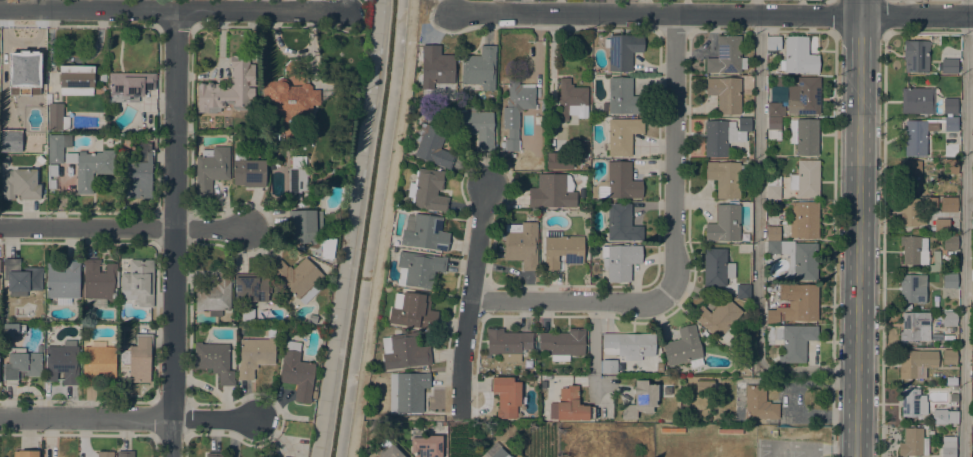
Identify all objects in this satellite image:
road: (510, 7)
road: (861, 7)
road: (88, 10)
road: (259, 11)
road: (656, 14)
road: (834, 15)
road: (917, 15)
road: (882, 16)
building: (773, 43)
building: (622, 51)
building: (917, 55)
building: (726, 56)
building: (798, 56)
building: (949, 66)
building: (435, 68)
building: (479, 68)
building: (102, 77)
building: (25, 79)
building: (76, 80)
building: (780, 82)
building: (130, 86)
building: (228, 89)
building: (726, 94)
building: (803, 97)
building: (622, 98)
building: (288, 99)
building: (571, 101)
building: (917, 101)
building: (950, 106)
building: (774, 109)
building: (23, 111)
building: (515, 111)
building: (55, 115)
building: (474, 126)
building: (773, 129)
building: (922, 134)
building: (622, 135)
building: (723, 136)
building: (804, 136)
building: (15, 141)
building: (432, 146)
building: (57, 147)
building: (581, 147)
road: (675, 156)
building: (559, 161)
building: (950, 167)
building: (92, 168)
building: (210, 169)
building: (248, 171)
building: (911, 174)
building: (138, 175)
building: (52, 176)
building: (725, 178)
building: (805, 179)
building: (42, 182)
building: (296, 182)
building: (617, 182)
building: (20, 185)
building: (772, 187)
building: (427, 190)
building: (552, 192)
building: (948, 205)
building: (910, 214)
building: (803, 220)
building: (621, 224)
building: (724, 224)
building: (941, 225)
building: (304, 226)
road: (122, 228)
road: (383, 228)
road: (965, 228)
building: (915, 231)
road: (172, 233)
building: (423, 233)
building: (772, 235)
road: (858, 235)
road: (756, 238)
building: (521, 243)
building: (950, 243)
road: (832, 244)
road: (882, 245)
road: (480, 246)
building: (561, 250)
building: (914, 250)
building: (796, 260)
building: (619, 261)
building: (934, 264)
building: (716, 267)
building: (418, 269)
building: (972, 272)
building: (21, 277)
building: (297, 278)
building: (62, 280)
building: (99, 280)
building: (949, 281)
building: (138, 283)
building: (250, 288)
building: (912, 289)
building: (743, 292)
building: (214, 294)
road: (570, 304)
building: (794, 304)
building: (412, 311)
building: (246, 316)
building: (718, 318)
building: (312, 319)
building: (949, 319)
building: (915, 327)
building: (20, 328)
building: (791, 341)
building: (508, 344)
building: (563, 344)
building: (682, 347)
building: (625, 349)
road: (594, 350)
building: (403, 352)
building: (253, 356)
building: (948, 357)
road: (464, 358)
building: (136, 360)
building: (214, 361)
building: (62, 363)
building: (98, 363)
building: (916, 364)
building: (20, 365)
building: (659, 367)
building: (296, 372)
building: (704, 386)
building: (406, 392)
building: (313, 395)
building: (506, 396)
building: (640, 400)
building: (909, 402)
building: (759, 404)
building: (569, 406)
building: (943, 417)
road: (128, 420)
building: (412, 424)
building: (913, 443)
building: (426, 446)
building: (948, 446)
road: (811, 447)
building: (390, 452)
building: (495, 452)
road: (810, 452)
building: (25, 454)
building: (105, 454)
building: (125, 454)
building: (214, 455)

